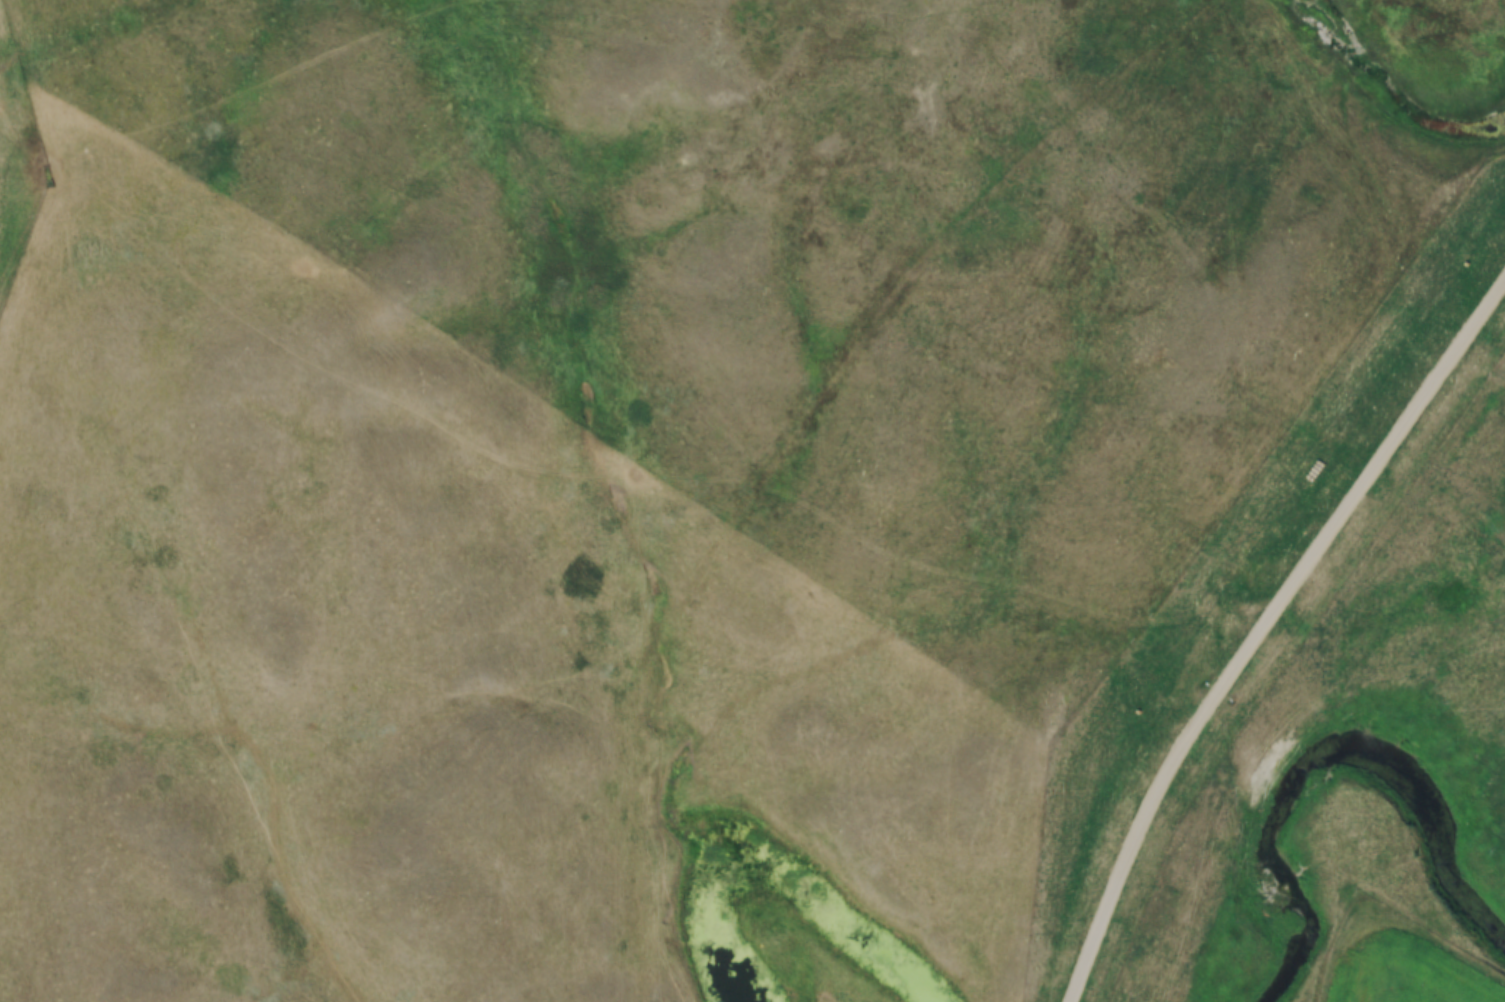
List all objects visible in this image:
road: (1263, 628)

